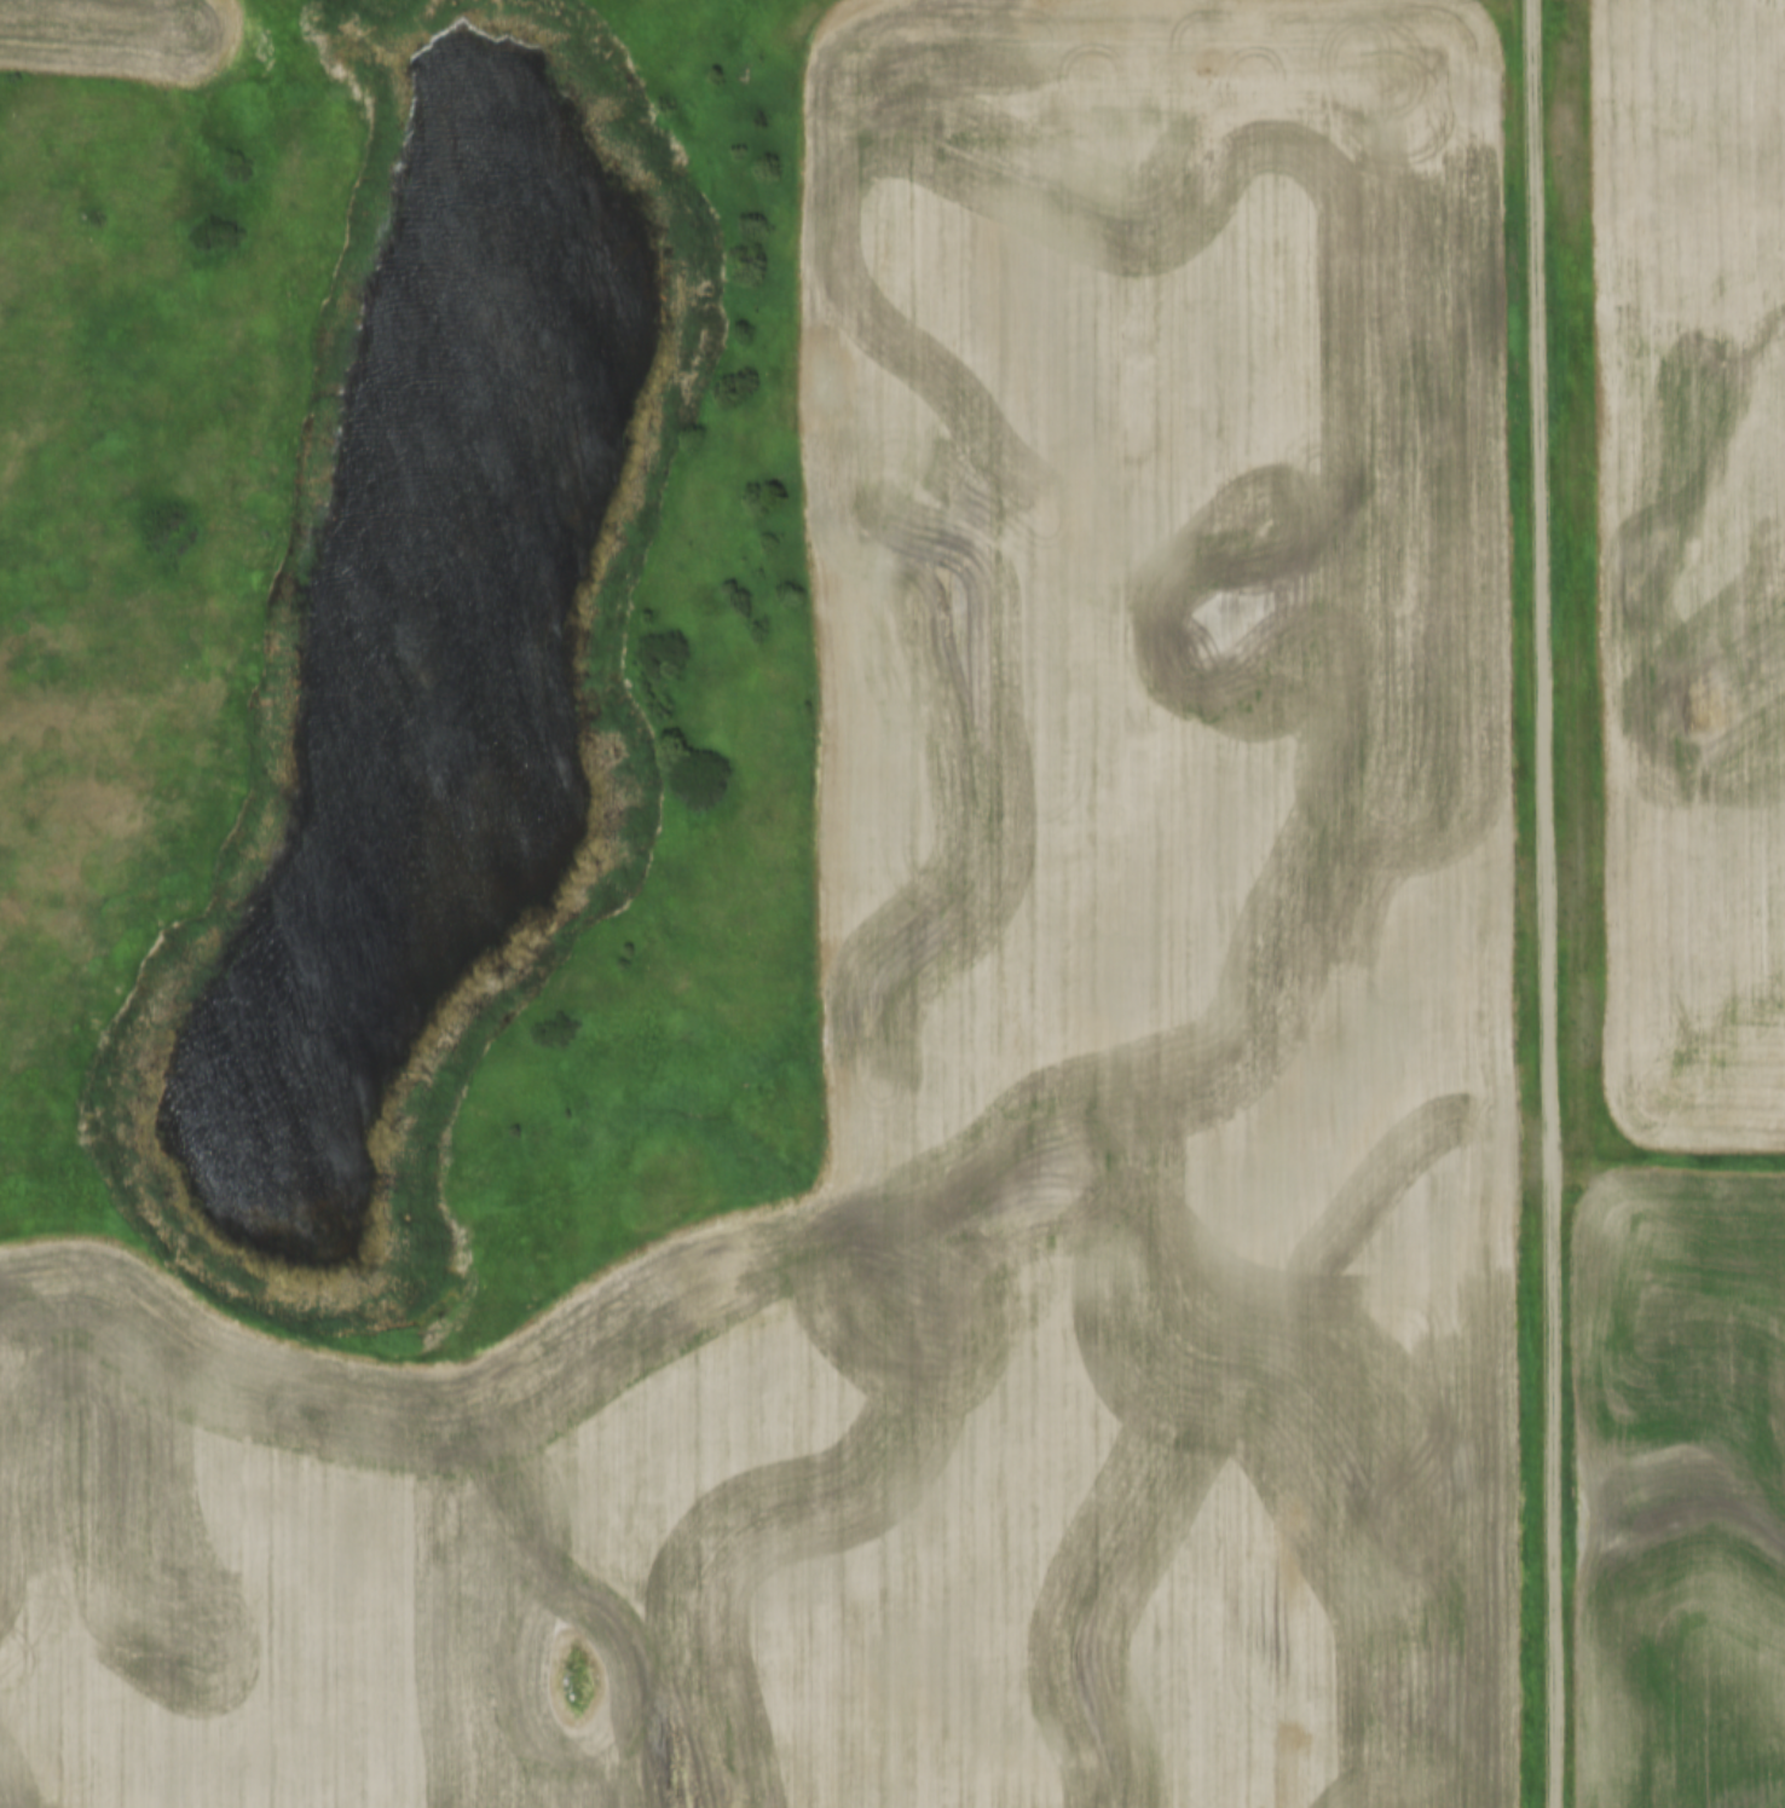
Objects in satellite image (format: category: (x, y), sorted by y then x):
road: (1554, 903)

